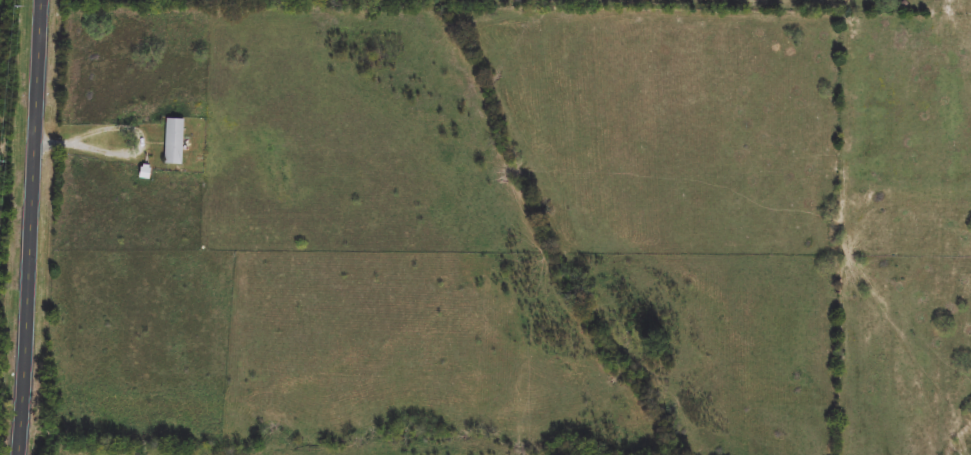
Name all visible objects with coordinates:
road: (113, 129)
building: (175, 142)
road: (52, 143)
road: (33, 227)

